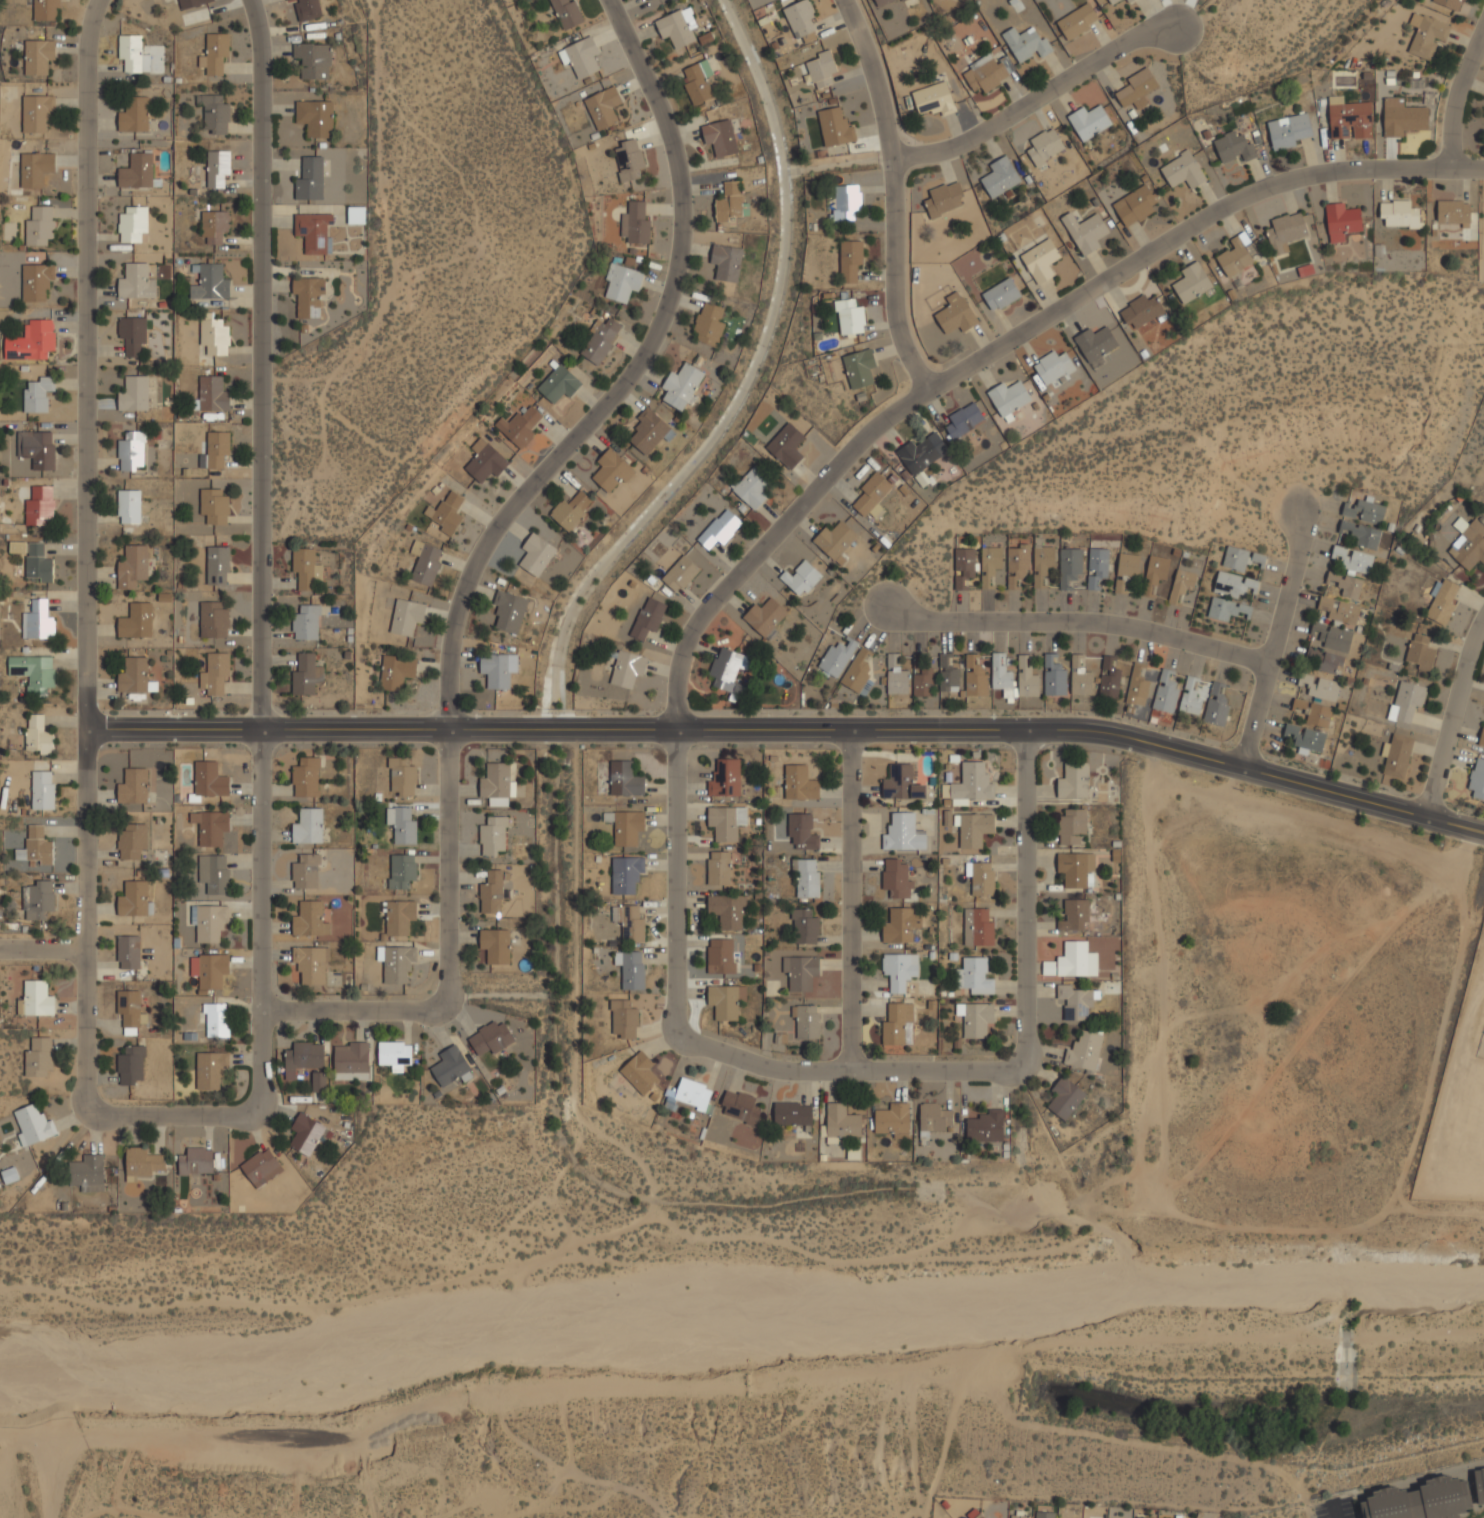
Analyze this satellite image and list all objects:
building: (645, 0)
building: (903, 0)
building: (1113, 1)
building: (1129, 1)
building: (882, 2)
building: (192, 3)
building: (1449, 3)
building: (306, 9)
building: (45, 10)
building: (567, 13)
building: (800, 18)
building: (1076, 21)
building: (677, 27)
building: (1426, 35)
building: (1026, 43)
building: (215, 54)
building: (131, 55)
building: (38, 56)
building: (580, 57)
building: (313, 60)
building: (821, 69)
building: (985, 74)
building: (698, 82)
building: (1136, 86)
road: (1037, 96)
road: (1456, 96)
building: (934, 99)
building: (603, 107)
building: (37, 113)
building: (133, 115)
building: (214, 116)
building: (1401, 117)
building: (315, 118)
building: (1349, 119)
building: (1088, 121)
building: (835, 127)
building: (1288, 130)
building: (720, 138)
building: (1044, 147)
building: (1233, 147)
building: (628, 160)
building: (217, 168)
building: (34, 169)
building: (135, 171)
building: (1182, 171)
building: (999, 177)
building: (310, 179)
road: (895, 194)
building: (942, 199)
building: (729, 202)
building: (846, 202)
building: (1135, 206)
building: (1453, 213)
building: (1399, 214)
building: (356, 215)
building: (1341, 221)
building: (131, 223)
building: (635, 223)
building: (214, 225)
building: (39, 226)
building: (1085, 231)
building: (314, 232)
building: (1285, 232)
building: (1235, 255)
building: (849, 260)
building: (1040, 260)
building: (726, 263)
building: (133, 281)
building: (36, 282)
building: (622, 282)
building: (210, 283)
building: (1191, 283)
building: (1001, 294)
building: (308, 296)
building: (1142, 312)
building: (955, 314)
building: (849, 316)
building: (709, 324)
building: (132, 334)
building: (213, 334)
building: (600, 340)
building: (31, 341)
road: (1002, 343)
building: (1095, 343)
road: (259, 363)
building: (1053, 367)
building: (859, 368)
building: (558, 384)
building: (681, 386)
building: (133, 393)
building: (38, 394)
building: (211, 395)
building: (1008, 399)
building: (963, 420)
building: (520, 425)
building: (650, 431)
building: (785, 446)
building: (37, 448)
building: (216, 451)
building: (131, 452)
building: (922, 452)
building: (484, 461)
building: (611, 471)
building: (751, 487)
building: (871, 493)
building: (40, 506)
building: (214, 506)
building: (128, 507)
building: (571, 510)
building: (1364, 511)
building: (446, 513)
building: (718, 529)
building: (1360, 534)
building: (834, 540)
building: (1467, 543)
building: (17, 547)
building: (536, 554)
road: (478, 555)
building: (1257, 557)
building: (1235, 558)
building: (1352, 559)
building: (38, 563)
building: (424, 563)
building: (990, 563)
building: (1042, 563)
building: (217, 565)
building: (132, 566)
building: (1017, 566)
building: (963, 567)
building: (1069, 567)
building: (303, 568)
building: (1097, 568)
building: (1156, 570)
building: (1125, 571)
building: (679, 574)
building: (801, 577)
building: (1233, 584)
building: (1344, 584)
building: (1181, 585)
building: (1442, 603)
building: (1225, 609)
building: (1339, 610)
building: (509, 611)
building: (405, 616)
building: (764, 616)
building: (647, 619)
building: (135, 620)
building: (213, 620)
road: (1078, 620)
building: (37, 621)
building: (306, 622)
road: (1275, 636)
building: (1332, 636)
building: (1420, 652)
building: (837, 657)
building: (1326, 661)
building: (626, 668)
building: (498, 669)
building: (725, 670)
building: (33, 672)
building: (395, 672)
building: (858, 673)
building: (215, 674)
building: (305, 674)
building: (134, 676)
building: (1001, 676)
building: (1054, 676)
building: (948, 677)
building: (975, 677)
building: (1080, 677)
building: (896, 678)
building: (1026, 679)
building: (1109, 679)
building: (924, 683)
building: (1139, 684)
building: (1319, 686)
building: (1165, 692)
building: (1190, 696)
building: (1406, 702)
building: (1216, 706)
building: (1313, 712)
road: (1451, 718)
road: (790, 729)
building: (38, 735)
building: (1481, 737)
building: (1305, 739)
building: (1397, 755)
building: (305, 776)
building: (401, 776)
building: (725, 778)
building: (210, 779)
building: (1477, 779)
building: (625, 780)
building: (1073, 781)
building: (799, 783)
building: (901, 783)
building: (495, 784)
building: (973, 784)
building: (133, 786)
building: (42, 791)
building: (726, 822)
road: (85, 825)
building: (401, 825)
building: (211, 826)
building: (308, 826)
building: (1072, 826)
building: (625, 827)
building: (973, 829)
building: (801, 831)
building: (492, 834)
building: (902, 834)
building: (131, 840)
building: (35, 846)
building: (718, 868)
building: (1076, 869)
building: (305, 871)
building: (401, 871)
building: (212, 873)
building: (625, 874)
building: (805, 878)
building: (980, 878)
building: (896, 879)
building: (491, 891)
building: (134, 899)
building: (37, 900)
road: (850, 900)
building: (726, 911)
building: (1074, 915)
building: (398, 917)
building: (309, 920)
building: (209, 922)
building: (629, 923)
building: (901, 926)
building: (804, 927)
building: (977, 927)
building: (495, 945)
building: (128, 952)
building: (720, 956)
building: (1076, 960)
building: (395, 963)
building: (310, 964)
building: (629, 969)
building: (209, 970)
building: (899, 970)
building: (799, 972)
building: (974, 976)
building: (35, 999)
building: (726, 1001)
building: (1076, 1001)
building: (129, 1008)
building: (623, 1019)
building: (975, 1019)
building: (216, 1020)
building: (806, 1021)
building: (897, 1025)
building: (490, 1038)
building: (1084, 1051)
building: (393, 1055)
building: (303, 1056)
building: (38, 1057)
building: (350, 1062)
building: (130, 1064)
building: (450, 1066)
building: (210, 1070)
road: (862, 1071)
building: (639, 1073)
building: (318, 1082)
building: (692, 1094)
building: (1065, 1098)
building: (740, 1107)
building: (792, 1114)
building: (934, 1117)
building: (893, 1120)
building: (841, 1123)
building: (33, 1124)
building: (985, 1127)
building: (305, 1134)
building: (195, 1162)
building: (141, 1163)
building: (261, 1168)
building: (86, 1173)
river: (741, 1316)
park: (78, 1464)
building: (1479, 1485)
street lamp: (1352, 1496)
building: (1419, 1500)
street lamp: (1310, 1507)
parking lot: (1347, 1507)
road: (1333, 1509)
parking lot: (1319, 1510)
building: (1044, 1515)
building: (979, 1516)
building: (1018, 1516)
building: (1137, 1517)

